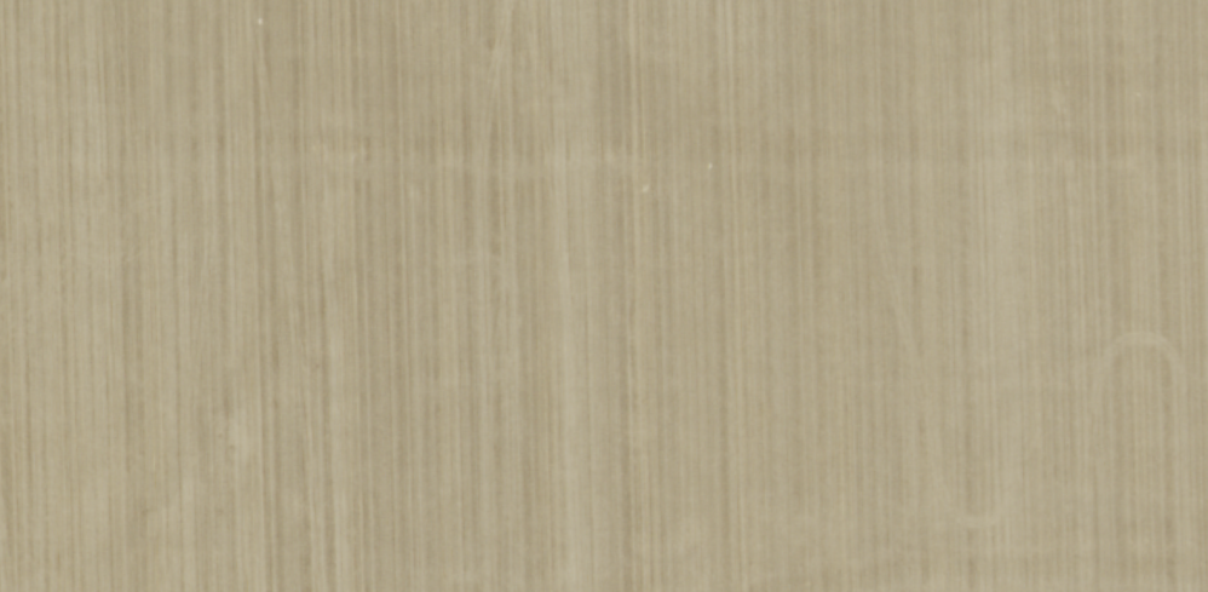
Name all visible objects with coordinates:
crop: (604, 295)

